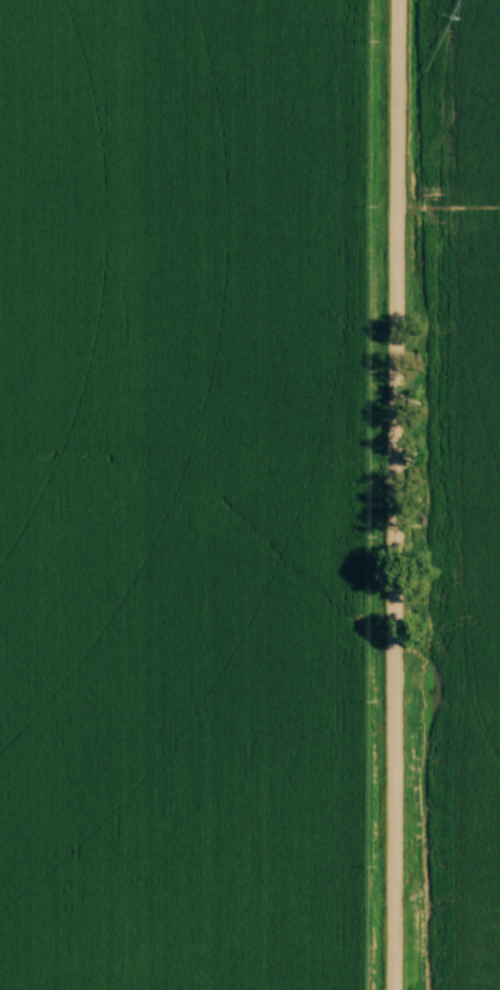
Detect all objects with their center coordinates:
road: (396, 494)

